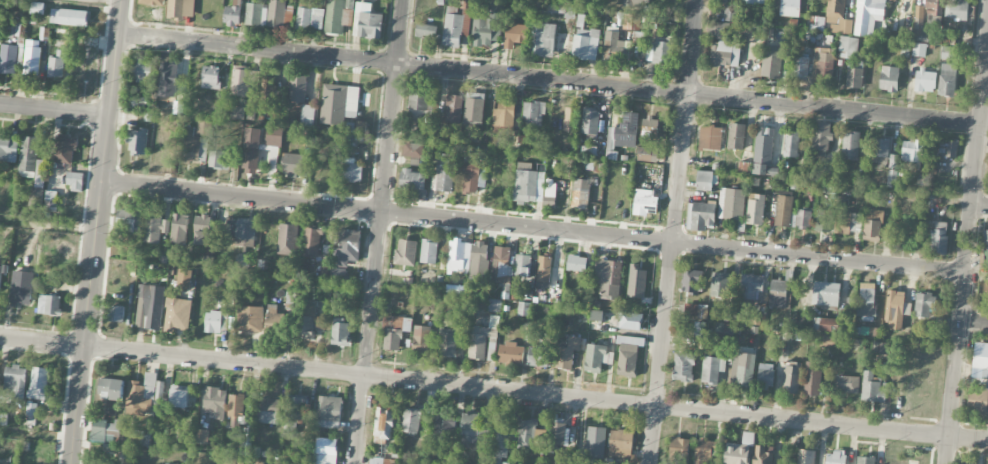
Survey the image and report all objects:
road: (116, 0)
building: (719, 1)
building: (757, 1)
building: (634, 3)
building: (934, 7)
building: (181, 8)
building: (790, 8)
building: (959, 9)
building: (276, 13)
building: (729, 13)
building: (256, 15)
building: (338, 15)
building: (919, 15)
building: (232, 16)
building: (868, 16)
building: (69, 17)
building: (838, 17)
building: (309, 18)
building: (466, 19)
building: (631, 21)
building: (367, 22)
building: (818, 23)
building: (453, 27)
building: (484, 29)
building: (718, 29)
building: (426, 30)
building: (515, 33)
building: (542, 39)
building: (585, 44)
building: (613, 44)
building: (919, 49)
building: (659, 51)
building: (947, 52)
building: (725, 54)
building: (31, 58)
building: (8, 59)
building: (56, 64)
building: (823, 64)
building: (771, 67)
building: (800, 68)
building: (85, 69)
building: (141, 70)
building: (210, 77)
road: (549, 78)
building: (168, 79)
building: (889, 79)
building: (947, 79)
building: (242, 81)
building: (925, 81)
building: (297, 89)
road: (986, 89)
building: (137, 102)
building: (339, 104)
building: (420, 106)
building: (474, 108)
building: (453, 109)
road: (54, 111)
building: (237, 112)
building: (533, 113)
building: (308, 115)
building: (504, 116)
building: (571, 119)
building: (590, 122)
building: (650, 127)
building: (203, 128)
building: (624, 132)
building: (274, 136)
building: (736, 136)
building: (710, 137)
building: (821, 137)
building: (498, 141)
building: (137, 142)
building: (524, 143)
building: (791, 144)
building: (191, 146)
building: (764, 146)
building: (851, 146)
building: (8, 148)
building: (65, 148)
building: (948, 148)
building: (251, 150)
building: (413, 150)
building: (912, 150)
building: (589, 151)
building: (880, 152)
building: (647, 154)
building: (29, 155)
building: (218, 159)
building: (293, 165)
building: (592, 165)
building: (352, 170)
building: (444, 172)
building: (40, 173)
building: (470, 177)
building: (412, 180)
building: (75, 181)
building: (704, 181)
building: (529, 184)
building: (581, 193)
building: (550, 194)
building: (36, 197)
building: (50, 199)
building: (645, 202)
building: (731, 204)
road: (980, 205)
building: (756, 209)
building: (784, 211)
building: (700, 216)
building: (804, 218)
building: (128, 221)
building: (823, 221)
building: (848, 222)
building: (872, 224)
road: (48, 225)
road: (533, 227)
building: (155, 228)
building: (179, 228)
building: (240, 228)
building: (202, 230)
road: (95, 231)
road: (378, 232)
road: (673, 232)
building: (939, 237)
building: (986, 238)
building: (287, 239)
building: (311, 241)
building: (347, 248)
building: (429, 251)
building: (405, 252)
road: (966, 256)
building: (458, 257)
building: (986, 257)
building: (478, 259)
building: (576, 263)
building: (522, 265)
building: (324, 266)
building: (543, 271)
building: (338, 274)
building: (608, 277)
building: (184, 279)
building: (691, 281)
building: (637, 282)
building: (720, 284)
building: (751, 286)
building: (21, 288)
building: (456, 289)
building: (778, 293)
building: (826, 294)
building: (866, 304)
building: (924, 304)
building: (49, 305)
building: (494, 305)
building: (149, 307)
building: (524, 309)
building: (306, 310)
building: (896, 310)
building: (696, 311)
building: (116, 313)
building: (177, 314)
building: (596, 315)
building: (273, 318)
building: (249, 319)
building: (758, 319)
building: (216, 321)
building: (630, 321)
road: (974, 323)
building: (828, 325)
building: (304, 327)
building: (395, 331)
building: (724, 332)
building: (341, 333)
building: (482, 338)
building: (422, 339)
building: (827, 341)
building: (448, 342)
building: (491, 349)
building: (566, 351)
building: (510, 353)
building: (980, 355)
building: (538, 356)
building: (628, 356)
building: (595, 357)
building: (683, 366)
building: (711, 369)
building: (742, 369)
building: (765, 375)
building: (791, 378)
building: (813, 378)
building: (14, 381)
building: (38, 383)
building: (846, 384)
road: (494, 388)
building: (874, 388)
building: (111, 389)
building: (145, 395)
building: (179, 396)
building: (977, 400)
building: (214, 402)
building: (236, 406)
building: (32, 407)
building: (268, 410)
building: (328, 412)
building: (294, 413)
building: (411, 420)
building: (443, 423)
building: (383, 425)
building: (469, 427)
building: (104, 430)
building: (556, 433)
building: (526, 434)
building: (202, 436)
road: (37, 437)
building: (246, 439)
building: (498, 439)
building: (620, 443)
building: (129, 444)
building: (595, 444)
building: (739, 450)
building: (325, 451)
building: (679, 451)
building: (702, 451)
building: (762, 455)
building: (805, 456)
building: (835, 457)
building: (375, 460)
building: (865, 460)
building: (967, 462)
building: (165, 463)

